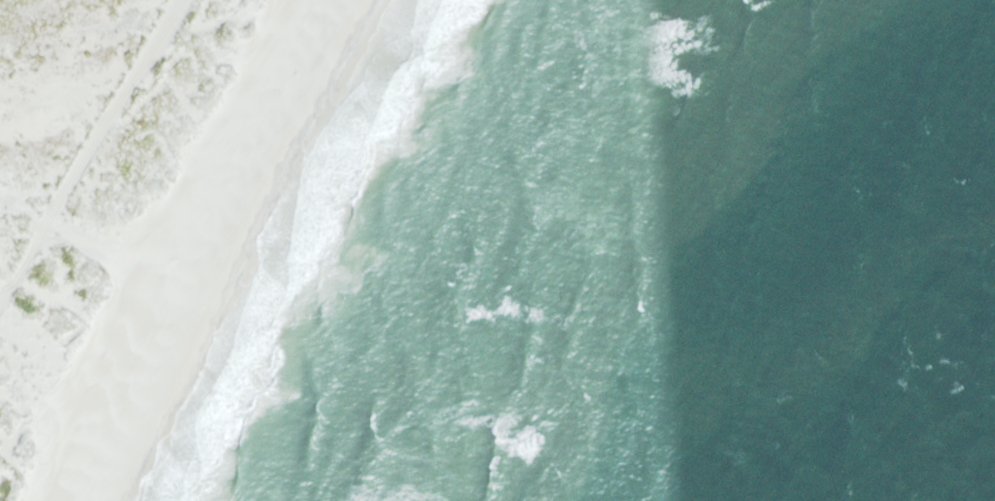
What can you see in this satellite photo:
road: (88, 152)
road: (12, 279)

